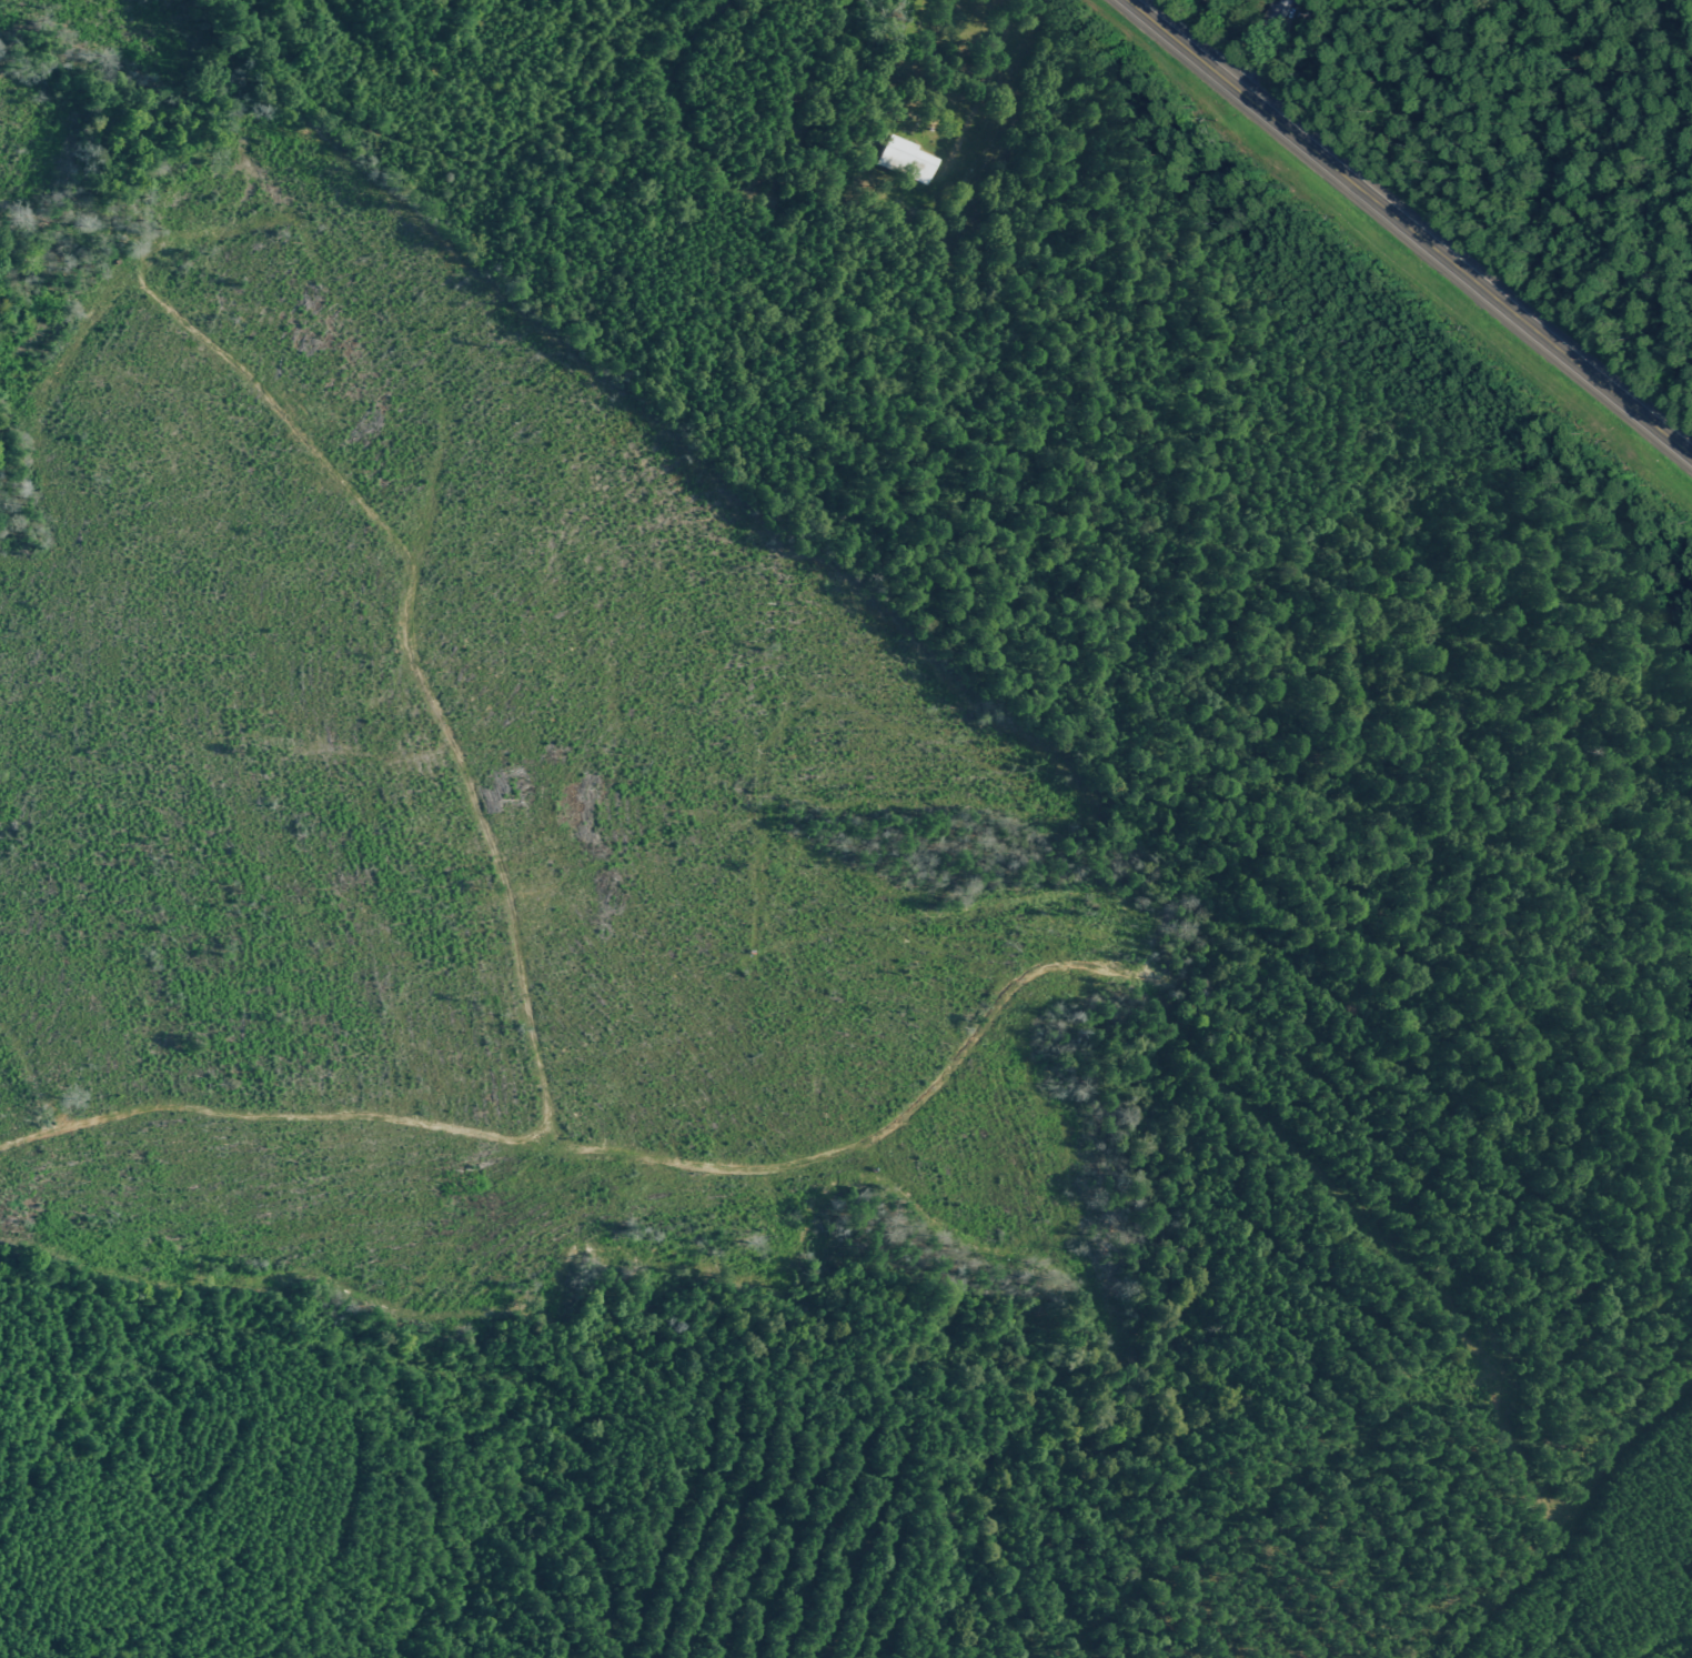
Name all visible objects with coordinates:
building: (908, 159)
road: (1408, 230)

